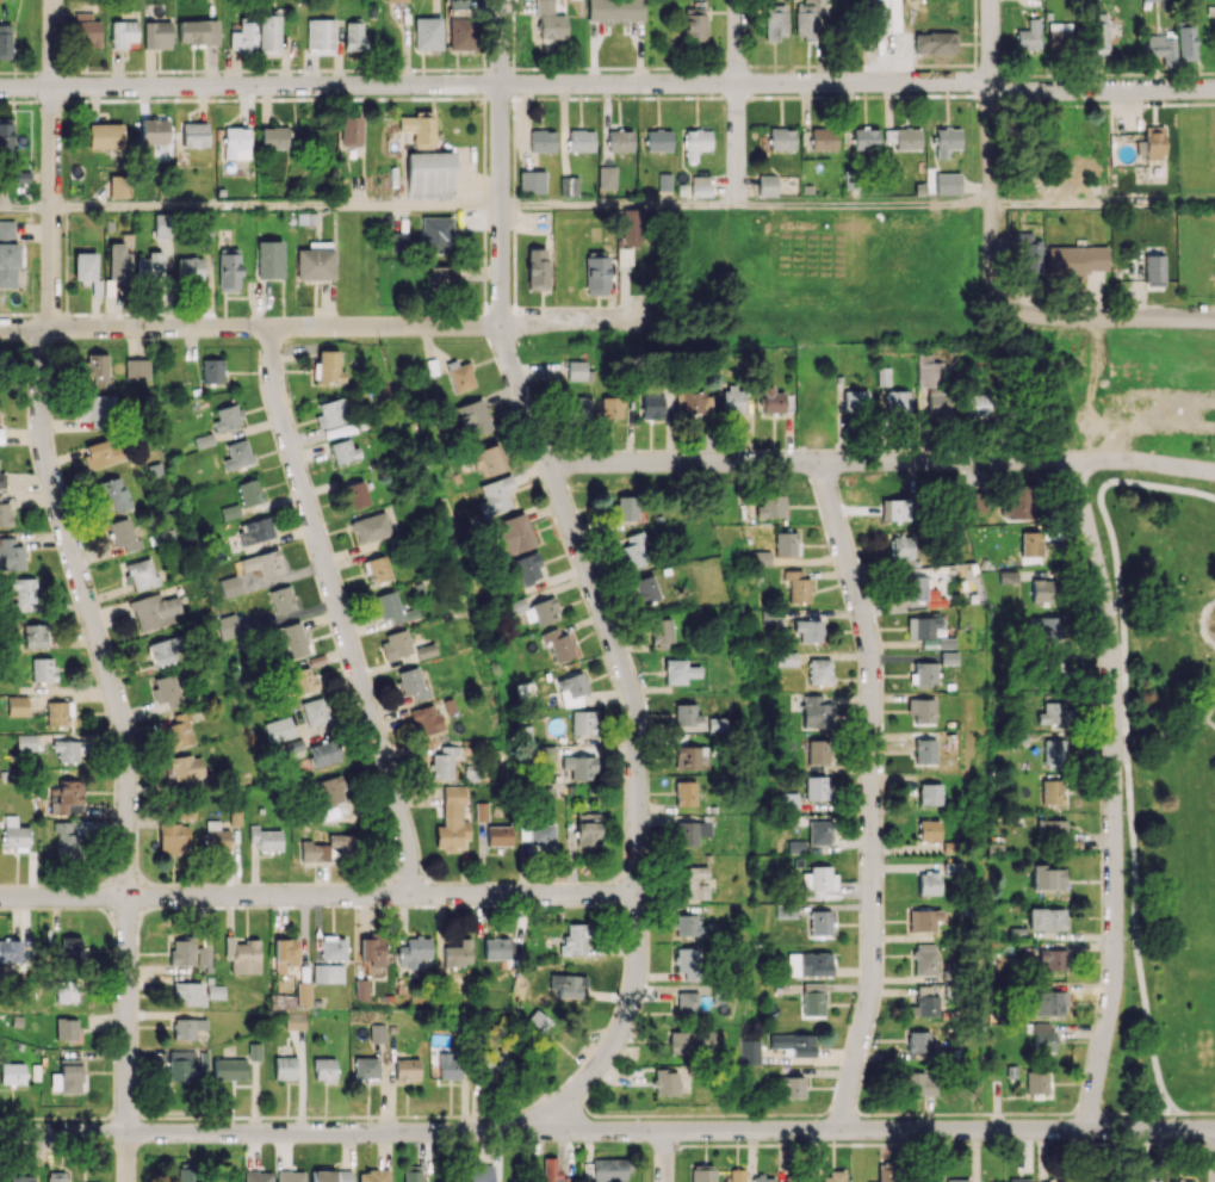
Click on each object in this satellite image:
building: (398, 0)
building: (544, 6)
building: (615, 11)
building: (886, 16)
building: (805, 20)
building: (775, 21)
building: (694, 24)
building: (551, 26)
building: (86, 30)
building: (197, 31)
building: (123, 33)
building: (268, 33)
building: (427, 33)
building: (461, 33)
building: (156, 35)
building: (1029, 35)
building: (243, 36)
building: (320, 36)
building: (353, 36)
building: (1059, 36)
building: (5, 41)
building: (1098, 41)
building: (935, 42)
building: (1185, 43)
building: (1161, 48)
road: (608, 83)
road: (737, 101)
building: (417, 129)
building: (153, 130)
building: (349, 130)
building: (6, 134)
building: (193, 134)
building: (105, 136)
building: (274, 137)
building: (903, 137)
building: (781, 138)
building: (823, 138)
building: (864, 138)
building: (581, 140)
building: (658, 140)
building: (946, 140)
building: (541, 141)
building: (620, 141)
building: (235, 142)
building: (695, 143)
building: (1152, 143)
road: (990, 149)
road: (52, 165)
building: (429, 175)
building: (607, 177)
building: (531, 181)
building: (947, 182)
building: (700, 185)
building: (767, 185)
building: (119, 186)
building: (569, 186)
road: (1102, 203)
road: (619, 204)
road: (862, 204)
road: (277, 205)
road: (26, 206)
building: (161, 224)
building: (6, 228)
building: (435, 234)
building: (628, 236)
building: (398, 242)
building: (1027, 252)
building: (119, 258)
building: (268, 259)
building: (1077, 260)
building: (315, 261)
building: (7, 265)
building: (85, 266)
building: (149, 266)
building: (188, 267)
building: (537, 268)
building: (228, 270)
building: (1154, 270)
building: (596, 274)
building: (440, 277)
road: (1104, 316)
road: (326, 326)
building: (327, 366)
building: (136, 369)
building: (97, 370)
building: (576, 370)
building: (211, 371)
building: (460, 377)
park: (1109, 391)
building: (732, 398)
building: (855, 400)
building: (775, 401)
building: (898, 401)
building: (938, 401)
building: (576, 403)
building: (693, 403)
building: (979, 404)
building: (651, 406)
building: (612, 407)
building: (95, 409)
building: (333, 411)
building: (227, 417)
building: (472, 417)
building: (1, 435)
building: (343, 451)
building: (104, 452)
building: (237, 454)
building: (489, 460)
road: (880, 460)
building: (2, 479)
building: (249, 491)
building: (112, 493)
building: (354, 494)
building: (495, 495)
building: (975, 501)
building: (1018, 501)
building: (771, 506)
building: (628, 508)
building: (229, 512)
building: (5, 513)
building: (371, 527)
building: (255, 530)
building: (514, 533)
building: (122, 537)
building: (1030, 543)
building: (900, 547)
building: (634, 551)
building: (10, 555)
building: (761, 557)
building: (264, 563)
building: (528, 568)
building: (377, 569)
building: (140, 573)
road: (587, 573)
building: (230, 586)
building: (796, 586)
building: (645, 589)
building: (1041, 589)
building: (24, 593)
building: (281, 599)
building: (392, 608)
building: (154, 611)
road: (339, 611)
building: (541, 612)
road: (1197, 620)
building: (229, 625)
building: (1048, 626)
building: (808, 630)
building: (661, 632)
building: (928, 632)
building: (35, 635)
building: (289, 640)
building: (558, 643)
building: (395, 644)
building: (424, 650)
building: (163, 651)
building: (948, 657)
building: (787, 658)
building: (43, 669)
building: (678, 672)
building: (819, 672)
building: (923, 673)
building: (300, 680)
building: (411, 683)
building: (574, 685)
building: (166, 689)
building: (17, 705)
building: (920, 710)
building: (314, 711)
road: (1204, 711)
building: (816, 712)
building: (58, 713)
building: (1052, 713)
building: (687, 714)
building: (426, 720)
building: (583, 722)
road: (122, 725)
road: (1122, 728)
building: (278, 729)
building: (178, 730)
road: (1160, 732)
building: (26, 742)
building: (818, 750)
building: (924, 750)
building: (323, 753)
building: (1054, 753)
building: (686, 757)
building: (444, 762)
building: (579, 766)
building: (185, 767)
building: (817, 787)
building: (1052, 791)
road: (1112, 792)
park: (1171, 792)
building: (684, 793)
road: (872, 793)
building: (929, 793)
building: (68, 797)
building: (331, 797)
building: (789, 802)
building: (452, 819)
building: (1052, 829)
building: (928, 830)
building: (690, 831)
building: (588, 833)
building: (818, 833)
building: (14, 834)
building: (498, 835)
building: (216, 836)
building: (174, 837)
building: (265, 838)
building: (68, 846)
building: (328, 848)
building: (1048, 878)
building: (694, 883)
building: (818, 883)
building: (928, 883)
road: (318, 895)
building: (924, 918)
building: (1046, 918)
building: (819, 922)
building: (688, 924)
building: (575, 939)
building: (74, 946)
building: (333, 948)
building: (495, 948)
building: (372, 949)
building: (10, 951)
building: (181, 952)
building: (414, 952)
building: (458, 953)
building: (242, 954)
building: (284, 954)
building: (204, 955)
building: (687, 959)
building: (923, 959)
building: (1052, 959)
building: (808, 964)
building: (328, 972)
building: (566, 984)
building: (360, 989)
building: (66, 991)
building: (188, 992)
building: (302, 992)
building: (812, 998)
building: (926, 1000)
building: (1046, 1002)
building: (687, 1003)
building: (295, 1020)
building: (187, 1027)
building: (66, 1028)
building: (377, 1033)
building: (1044, 1036)
building: (689, 1041)
building: (919, 1041)
building: (793, 1044)
building: (254, 1051)
building: (750, 1051)
building: (496, 1062)
building: (187, 1064)
building: (451, 1065)
building: (284, 1067)
building: (366, 1067)
building: (229, 1069)
building: (324, 1069)
building: (407, 1069)
building: (12, 1073)
building: (67, 1076)
building: (1039, 1081)
building: (664, 1082)
building: (915, 1082)
building: (791, 1087)
road: (1152, 1112)
road: (605, 1131)
road: (664, 1156)
road: (125, 1157)
building: (551, 1170)
building: (603, 1170)
building: (190, 1172)
building: (479, 1172)
building: (886, 1172)
building: (702, 1174)
building: (330, 1175)
building: (736, 1175)
building: (56, 1176)
building: (258, 1176)
building: (290, 1176)
building: (373, 1176)
building: (411, 1176)
building: (832, 1176)
building: (23, 1178)
building: (763, 1178)
building: (957, 1180)
building: (1021, 1180)
building: (1046, 1181)
building: (1147, 1181)
building: (1182, 1181)

